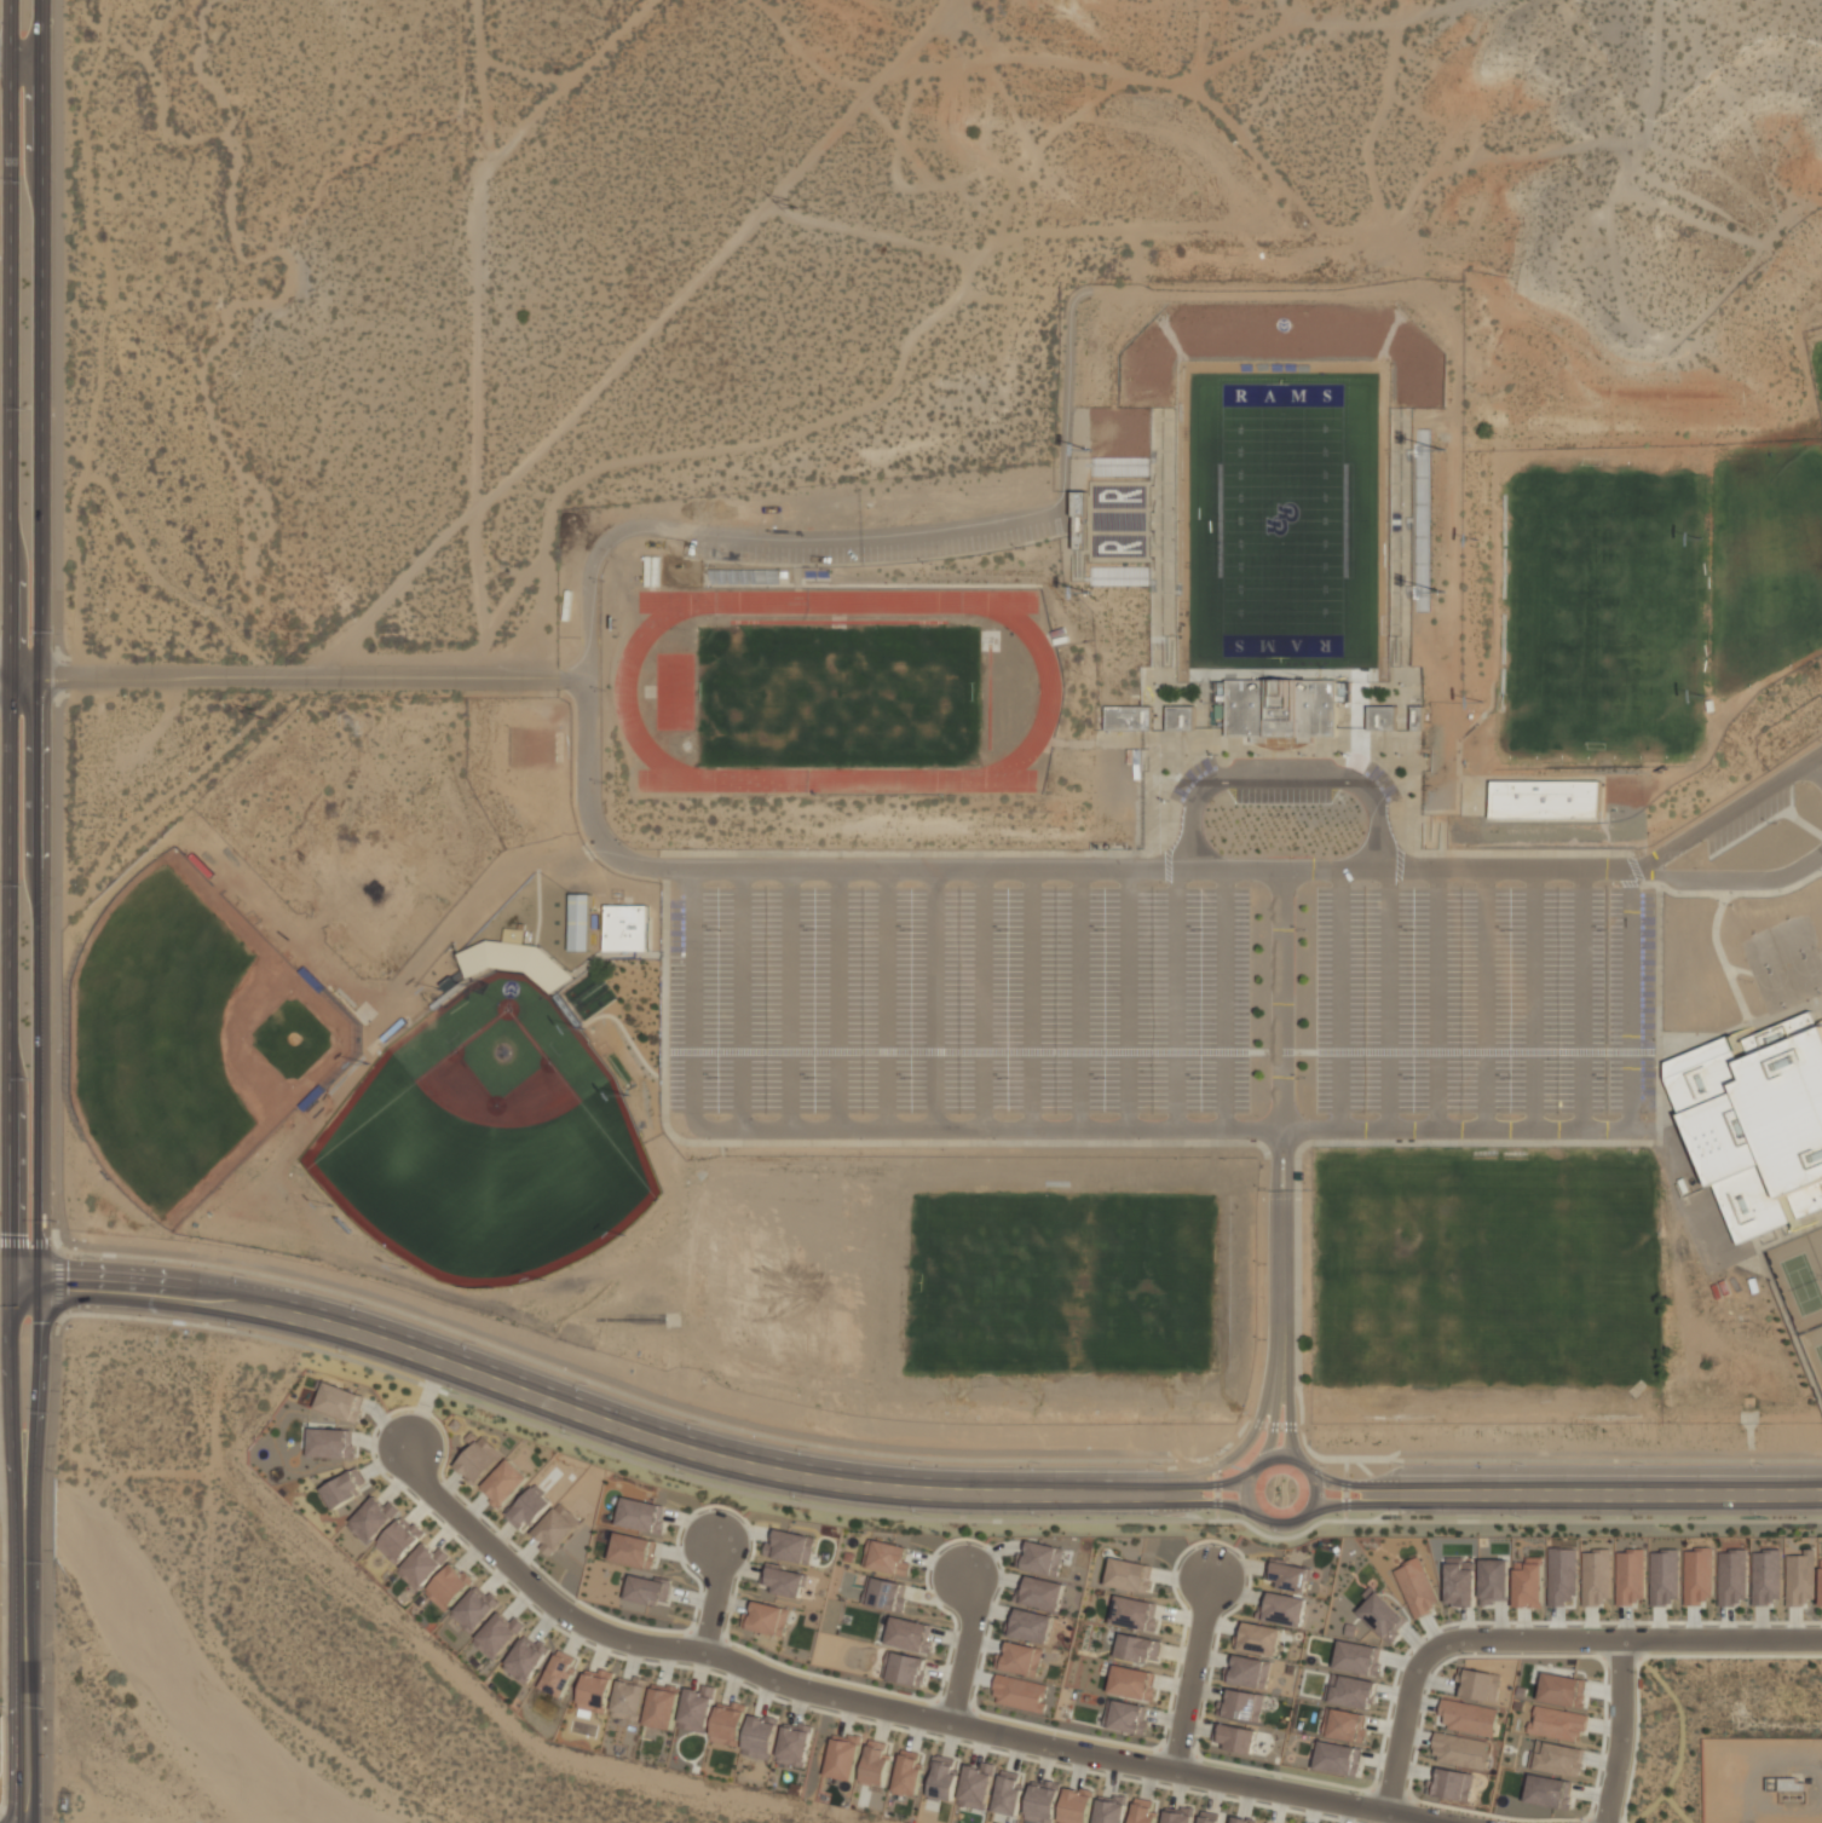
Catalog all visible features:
road: (1, 60)
road: (21, 60)
power tower: (790, 202)
street lamp: (1095, 449)
park: (1281, 520)
road: (759, 544)
street lamp: (1027, 548)
street lamp: (932, 563)
street lamp: (714, 565)
street lamp: (829, 569)
street lamp: (602, 581)
street lamp: (1095, 592)
park: (1599, 611)
road: (295, 679)
street lamp: (604, 690)
park: (840, 691)
track: (1051, 694)
building: (1281, 708)
power tower: (259, 715)
building: (1382, 717)
street lamp: (1257, 754)
street lamp: (1303, 754)
street lamp: (1353, 754)
street lamp: (1401, 754)
street lamp: (1216, 755)
road: (1816, 767)
road: (1285, 773)
parking lot: (1192, 775)
parking lot: (1378, 779)
street lamp: (602, 783)
road: (7, 791)
road: (36, 791)
building: (1545, 798)
street lamp: (1169, 801)
street lamp: (1401, 801)
road: (1726, 812)
parking lot: (1748, 820)
street lamp: (1775, 823)
road: (1039, 867)
road: (1728, 879)
street lamp: (1730, 904)
building: (580, 922)
building: (628, 927)
street lamp: (717, 929)
street lamp: (814, 929)
street lamp: (911, 929)
street lamp: (1007, 929)
street lamp: (1103, 929)
street lamp: (1200, 929)
street lamp: (1304, 929)
street lamp: (1413, 929)
street lamp: (1510, 929)
street lamp: (1607, 929)
building: (518, 959)
street lamp: (1751, 981)
road: (743, 998)
road: (792, 998)
road: (841, 998)
road: (889, 998)
road: (938, 998)
road: (985, 998)
road: (1488, 998)
road: (1584, 998)
road: (1034, 999)
road: (1082, 999)
road: (1131, 999)
road: (1180, 999)
road: (1227, 999)
road: (1343, 999)
road: (1391, 999)
road: (1441, 999)
road: (1536, 999)
road: (1633, 1000)
parking lot: (961, 1002)
parking lot: (1489, 1002)
park: (190, 1038)
street lamp: (717, 1077)
street lamp: (814, 1077)
street lamp: (911, 1077)
street lamp: (1007, 1077)
street lamp: (1103, 1077)
street lamp: (1200, 1077)
street lamp: (1304, 1077)
street lamp: (1413, 1078)
street lamp: (1509, 1078)
street lamp: (1607, 1078)
road: (1280, 1094)
building: (1759, 1123)
road: (1038, 1131)
park: (490, 1142)
street lamp: (1302, 1182)
street lamp: (1265, 1188)
road: (62, 1234)
park: (1816, 1245)
traffic signals: (4, 1262)
traffic signals: (41, 1264)
street lamp: (1265, 1264)
park: (982, 1280)
park: (1797, 1281)
park: (1487, 1285)
traffic signals: (4, 1300)
traffic signals: (40, 1300)
street lamp: (1265, 1339)
park: (1814, 1351)
road: (543, 1379)
road: (1287, 1389)
road: (1272, 1390)
building: (340, 1402)
road: (573, 1420)
road: (1270, 1425)
building: (330, 1443)
street lamp: (808, 1448)
road: (1549, 1453)
building: (478, 1460)
road: (1226, 1460)
street lamp: (922, 1461)
street lamp: (1039, 1464)
street lamp: (1160, 1464)
street lamp: (1316, 1464)
street lamp: (1401, 1464)
street lamp: (1522, 1464)
street lamp: (1643, 1464)
street lamp: (1763, 1464)
road: (1170, 1466)
road: (1365, 1471)
road: (1118, 1476)
building: (504, 1483)
road: (1169, 1484)
road: (1345, 1484)
road: (1599, 1484)
road: (1215, 1485)
building: (345, 1488)
road: (1342, 1489)
river: (28, 1490)
street lamp: (800, 1500)
road: (1201, 1504)
road: (1356, 1505)
road: (1613, 1506)
building: (529, 1507)
road: (1385, 1511)
road: (1175, 1512)
street lamp: (921, 1515)
building: (641, 1516)
road: (1303, 1516)
street lamp: (1040, 1517)
street lamp: (1160, 1517)
street lamp: (1401, 1517)
street lamp: (1522, 1517)
street lamp: (1643, 1517)
street lamp: (1762, 1517)
building: (373, 1519)
road: (45, 1528)
building: (555, 1528)
street lamp: (1282, 1534)
road: (1282, 1538)
building: (399, 1539)
building: (790, 1546)
building: (633, 1550)
building: (886, 1557)
building: (1040, 1557)
building: (422, 1565)
building: (1129, 1575)
building: (1288, 1575)
building: (1561, 1576)
building: (1697, 1576)
building: (1596, 1577)
building: (1630, 1577)
building: (1662, 1577)
building: (1731, 1577)
building: (1765, 1577)
building: (1799, 1579)
building: (783, 1580)
building: (1459, 1581)
building: (1493, 1581)
building: (1527, 1582)
building: (1821, 1583)
building: (449, 1587)
building: (1415, 1587)
building: (647, 1588)
building: (1040, 1592)
building: (884, 1593)
road: (715, 1599)
building: (1282, 1609)
building: (474, 1610)
building: (1134, 1613)
building: (1380, 1615)
building: (766, 1619)
building: (1030, 1625)
building: (910, 1634)
building: (498, 1635)
building: (1257, 1638)
road: (1509, 1639)
building: (1137, 1648)
road: (965, 1649)
street lamp: (1465, 1652)
building: (1357, 1657)
building: (526, 1658)
building: (1020, 1658)
road: (1, 1660)
river: (191, 1660)
building: (904, 1668)
building: (1247, 1672)
building: (560, 1673)
road: (1192, 1674)
building: (1132, 1683)
building: (1477, 1685)
building: (595, 1690)
building: (1562, 1690)
building: (1350, 1691)
building: (1020, 1694)
building: (629, 1698)
road: (23, 1702)
road: (855, 1702)
building: (662, 1706)
building: (1241, 1706)
building: (697, 1708)
building: (1125, 1717)
building: (1468, 1717)
building: (1557, 1723)
building: (728, 1724)
building: (1344, 1724)
road: (1620, 1731)
building: (760, 1736)
building: (1235, 1737)
building: (795, 1744)
building: (1459, 1750)
building: (843, 1756)
building: (1338, 1758)
building: (1558, 1759)
building: (875, 1764)
building: (909, 1773)
building: (944, 1778)
building: (1449, 1783)
building: (976, 1785)
building: (1788, 1789)
building: (1547, 1790)
building: (1008, 1793)
building: (1043, 1801)
building: (1076, 1805)
building: (1109, 1808)
building: (1142, 1811)
building: (1178, 1815)
building: (1209, 1817)
building: (1244, 1821)
street lamp: (1575, 1822)

